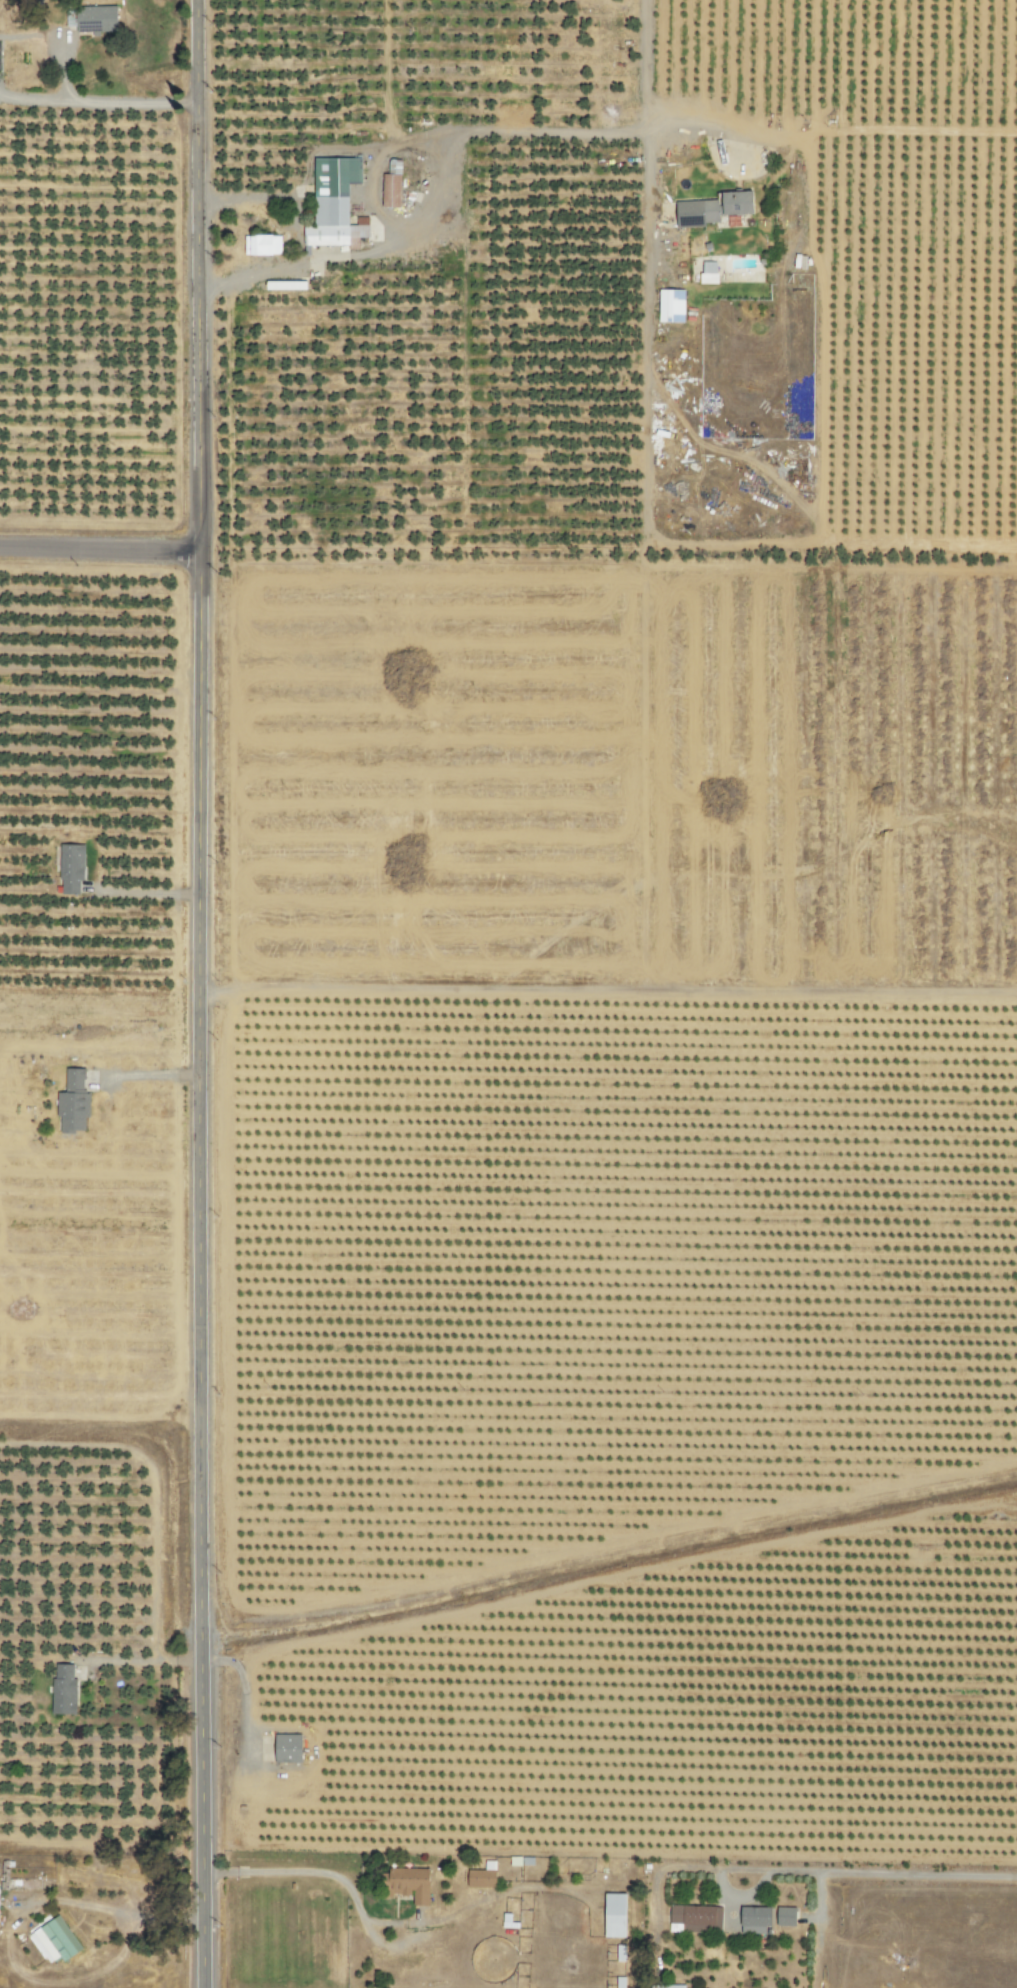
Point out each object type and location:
building: (96, 19)
road: (96, 99)
road: (470, 134)
road: (309, 154)
building: (391, 185)
building: (738, 204)
building: (334, 205)
building: (697, 213)
building: (262, 246)
building: (799, 262)
building: (708, 273)
road: (194, 277)
building: (670, 306)
road: (99, 552)
building: (70, 867)
road: (150, 1075)
building: (73, 1102)
road: (196, 1271)
road: (71, 1416)
building: (63, 1690)
building: (287, 1748)
road: (892, 1872)
building: (482, 1877)
road: (723, 1884)
building: (410, 1885)
building: (615, 1916)
building: (786, 1917)
building: (695, 1920)
building: (754, 1921)
building: (52, 1940)
building: (671, 1987)

